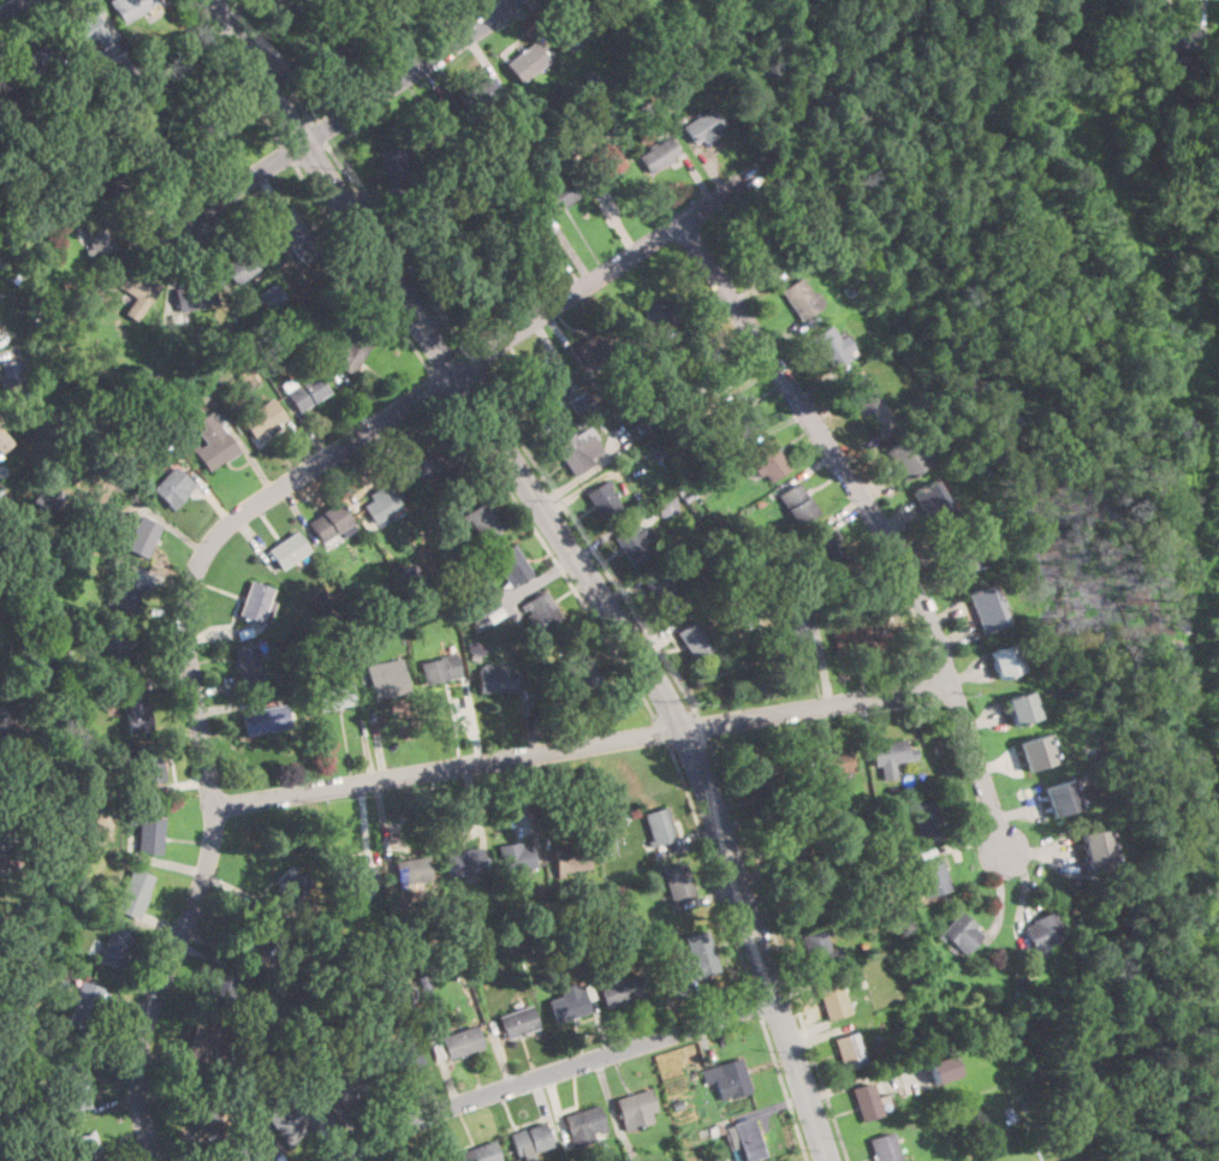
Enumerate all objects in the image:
building: (274, 4)
road: (607, 6)
building: (626, 6)
road: (13, 8)
building: (130, 8)
building: (382, 20)
road: (542, 20)
road: (436, 22)
road: (1203, 22)
building: (572, 26)
road: (111, 28)
road: (534, 28)
road: (268, 31)
road: (48, 32)
building: (85, 32)
building: (334, 32)
building: (542, 40)
building: (1183, 41)
building: (1148, 48)
building: (323, 53)
building: (638, 58)
road: (273, 60)
road: (391, 60)
building: (165, 61)
building: (37, 62)
building: (124, 62)
building: (527, 62)
road: (488, 64)
road: (234, 70)
road: (286, 73)
building: (590, 78)
building: (557, 85)
building: (5, 87)
road: (433, 87)
building: (661, 90)
building: (478, 96)
building: (1172, 97)
building: (531, 106)
road: (350, 108)
building: (644, 108)
building: (595, 119)
building: (214, 123)
building: (137, 124)
building: (703, 125)
building: (433, 127)
road: (320, 131)
building: (513, 137)
building: (29, 139)
building: (166, 149)
road: (289, 153)
building: (659, 155)
road: (209, 160)
building: (603, 160)
building: (396, 169)
road: (714, 171)
road: (698, 178)
building: (119, 181)
road: (166, 184)
road: (269, 190)
building: (436, 196)
building: (557, 196)
road: (365, 201)
road: (147, 214)
road: (617, 219)
building: (100, 236)
building: (293, 236)
road: (143, 238)
road: (203, 238)
building: (524, 238)
road: (151, 245)
road: (393, 246)
road: (571, 250)
building: (767, 252)
road: (178, 258)
road: (563, 261)
building: (798, 262)
building: (240, 267)
road: (364, 269)
building: (486, 282)
building: (65, 285)
building: (139, 286)
building: (850, 288)
road: (753, 292)
building: (194, 297)
building: (272, 297)
building: (799, 299)
park: (1077, 308)
building: (660, 314)
road: (448, 315)
building: (302, 321)
road: (704, 323)
building: (270, 334)
road: (786, 334)
road: (561, 339)
building: (658, 344)
building: (596, 346)
building: (829, 347)
building: (262, 350)
road: (11, 352)
building: (349, 353)
road: (555, 355)
road: (468, 361)
building: (708, 369)
building: (160, 371)
building: (248, 373)
road: (738, 375)
building: (73, 376)
building: (12, 380)
road: (436, 382)
road: (822, 382)
building: (113, 383)
building: (219, 383)
road: (745, 385)
building: (307, 392)
building: (860, 393)
building: (549, 395)
road: (352, 398)
building: (579, 403)
building: (739, 416)
building: (262, 417)
building: (720, 418)
building: (582, 421)
building: (103, 422)
building: (135, 423)
building: (129, 428)
road: (305, 428)
building: (642, 429)
road: (773, 429)
building: (1, 435)
road: (872, 440)
building: (214, 441)
road: (302, 442)
road: (388, 442)
building: (168, 445)
building: (576, 451)
building: (87, 452)
building: (909, 457)
road: (252, 459)
building: (768, 460)
building: (432, 468)
road: (584, 474)
road: (803, 474)
road: (201, 484)
building: (173, 487)
road: (346, 488)
building: (704, 488)
road: (489, 489)
building: (1, 490)
building: (683, 490)
road: (880, 492)
building: (688, 498)
building: (49, 499)
building: (603, 501)
building: (760, 502)
building: (797, 504)
building: (382, 505)
building: (933, 505)
road: (139, 507)
building: (666, 507)
road: (301, 516)
road: (837, 516)
road: (875, 519)
building: (482, 520)
building: (331, 523)
road: (900, 523)
road: (616, 530)
road: (216, 534)
building: (142, 536)
building: (710, 540)
road: (255, 542)
road: (587, 542)
building: (635, 543)
building: (287, 550)
building: (827, 552)
road: (552, 553)
road: (573, 553)
building: (962, 555)
building: (515, 566)
building: (769, 571)
road: (928, 573)
road: (154, 574)
building: (416, 579)
road: (536, 579)
road: (629, 584)
building: (390, 588)
building: (32, 590)
building: (123, 593)
building: (664, 593)
building: (321, 601)
building: (257, 603)
building: (433, 603)
building: (774, 603)
building: (986, 608)
building: (472, 611)
building: (542, 611)
road: (902, 612)
road: (949, 613)
building: (495, 614)
building: (868, 615)
building: (427, 617)
building: (486, 620)
building: (309, 621)
building: (63, 623)
building: (478, 625)
building: (244, 631)
road: (208, 632)
building: (793, 633)
road: (660, 635)
building: (851, 636)
road: (956, 637)
building: (696, 641)
building: (478, 645)
building: (118, 650)
road: (822, 660)
building: (1006, 661)
road: (155, 665)
building: (250, 667)
building: (440, 669)
building: (581, 669)
road: (969, 673)
building: (539, 675)
building: (388, 677)
road: (168, 681)
building: (496, 681)
road: (216, 687)
building: (335, 696)
road: (230, 707)
building: (135, 709)
building: (1022, 709)
road: (530, 710)
road: (558, 713)
building: (267, 720)
road: (472, 720)
road: (985, 720)
building: (6, 725)
road: (864, 725)
road: (701, 727)
building: (53, 731)
road: (376, 731)
road: (661, 731)
road: (808, 737)
building: (79, 739)
road: (581, 744)
road: (2, 746)
road: (365, 748)
building: (99, 751)
building: (1035, 752)
building: (891, 756)
building: (833, 762)
building: (147, 766)
road: (997, 766)
road: (174, 785)
building: (11, 791)
building: (766, 794)
building: (803, 796)
building: (1063, 797)
road: (476, 803)
road: (546, 805)
road: (534, 808)
building: (616, 809)
building: (851, 809)
road: (1018, 810)
building: (636, 815)
building: (926, 818)
building: (132, 820)
road: (365, 821)
road: (385, 821)
building: (660, 826)
road: (741, 827)
building: (1112, 828)
building: (150, 835)
road: (697, 840)
building: (783, 845)
road: (962, 845)
building: (5, 846)
building: (1098, 849)
building: (13, 852)
building: (928, 852)
road: (1040, 852)
building: (516, 858)
building: (571, 859)
building: (464, 861)
road: (170, 862)
road: (713, 867)
building: (412, 870)
road: (769, 874)
building: (934, 877)
building: (356, 881)
building: (678, 883)
building: (917, 885)
building: (290, 888)
road: (1024, 891)
building: (135, 893)
road: (251, 893)
building: (624, 894)
road: (1000, 897)
road: (704, 898)
building: (801, 900)
building: (578, 910)
building: (95, 913)
building: (511, 913)
building: (541, 921)
road: (163, 924)
building: (1043, 931)
building: (649, 933)
road: (781, 933)
building: (962, 933)
building: (258, 934)
building: (488, 940)
building: (587, 941)
building: (117, 946)
building: (863, 946)
road: (220, 947)
building: (511, 947)
building: (815, 948)
road: (779, 949)
road: (208, 957)
building: (697, 959)
building: (475, 963)
building: (391, 968)
building: (286, 969)
road: (793, 976)
road: (126, 978)
building: (420, 978)
building: (862, 983)
building: (222, 989)
building: (624, 989)
building: (589, 992)
building: (833, 1000)
building: (385, 1004)
building: (567, 1004)
road: (130, 1005)
building: (85, 1006)
road: (696, 1006)
road: (759, 1006)
building: (358, 1007)
building: (315, 1008)
road: (654, 1017)
building: (518, 1022)
road: (601, 1029)
road: (808, 1029)
road: (821, 1035)
building: (463, 1041)
building: (202, 1042)
building: (302, 1043)
road: (704, 1046)
building: (275, 1048)
building: (439, 1050)
building: (850, 1050)
road: (501, 1055)
building: (403, 1058)
road: (168, 1067)
building: (941, 1067)
road: (390, 1068)
road: (555, 1070)
road: (920, 1074)
building: (731, 1079)
road: (862, 1079)
building: (239, 1082)
building: (345, 1083)
road: (448, 1083)
building: (35, 1086)
road: (784, 1090)
building: (71, 1091)
building: (1028, 1101)
road: (337, 1102)
building: (866, 1102)
building: (677, 1106)
road: (107, 1107)
road: (771, 1107)
building: (637, 1108)
building: (202, 1109)
road: (613, 1109)
building: (1009, 1109)
road: (559, 1111)
road: (545, 1112)
building: (299, 1114)
building: (1010, 1120)
building: (585, 1125)
building: (715, 1127)
road: (444, 1136)
building: (529, 1139)
building: (267, 1142)
building: (747, 1142)
road: (338, 1143)
road: (184, 1147)
road: (388, 1147)
building: (88, 1148)
building: (884, 1148)
building: (482, 1153)
road: (138, 1155)
building: (243, 1155)
building: (714, 1157)
road: (266, 1160)
building: (441, 1160)
building: (1211, 1160)

